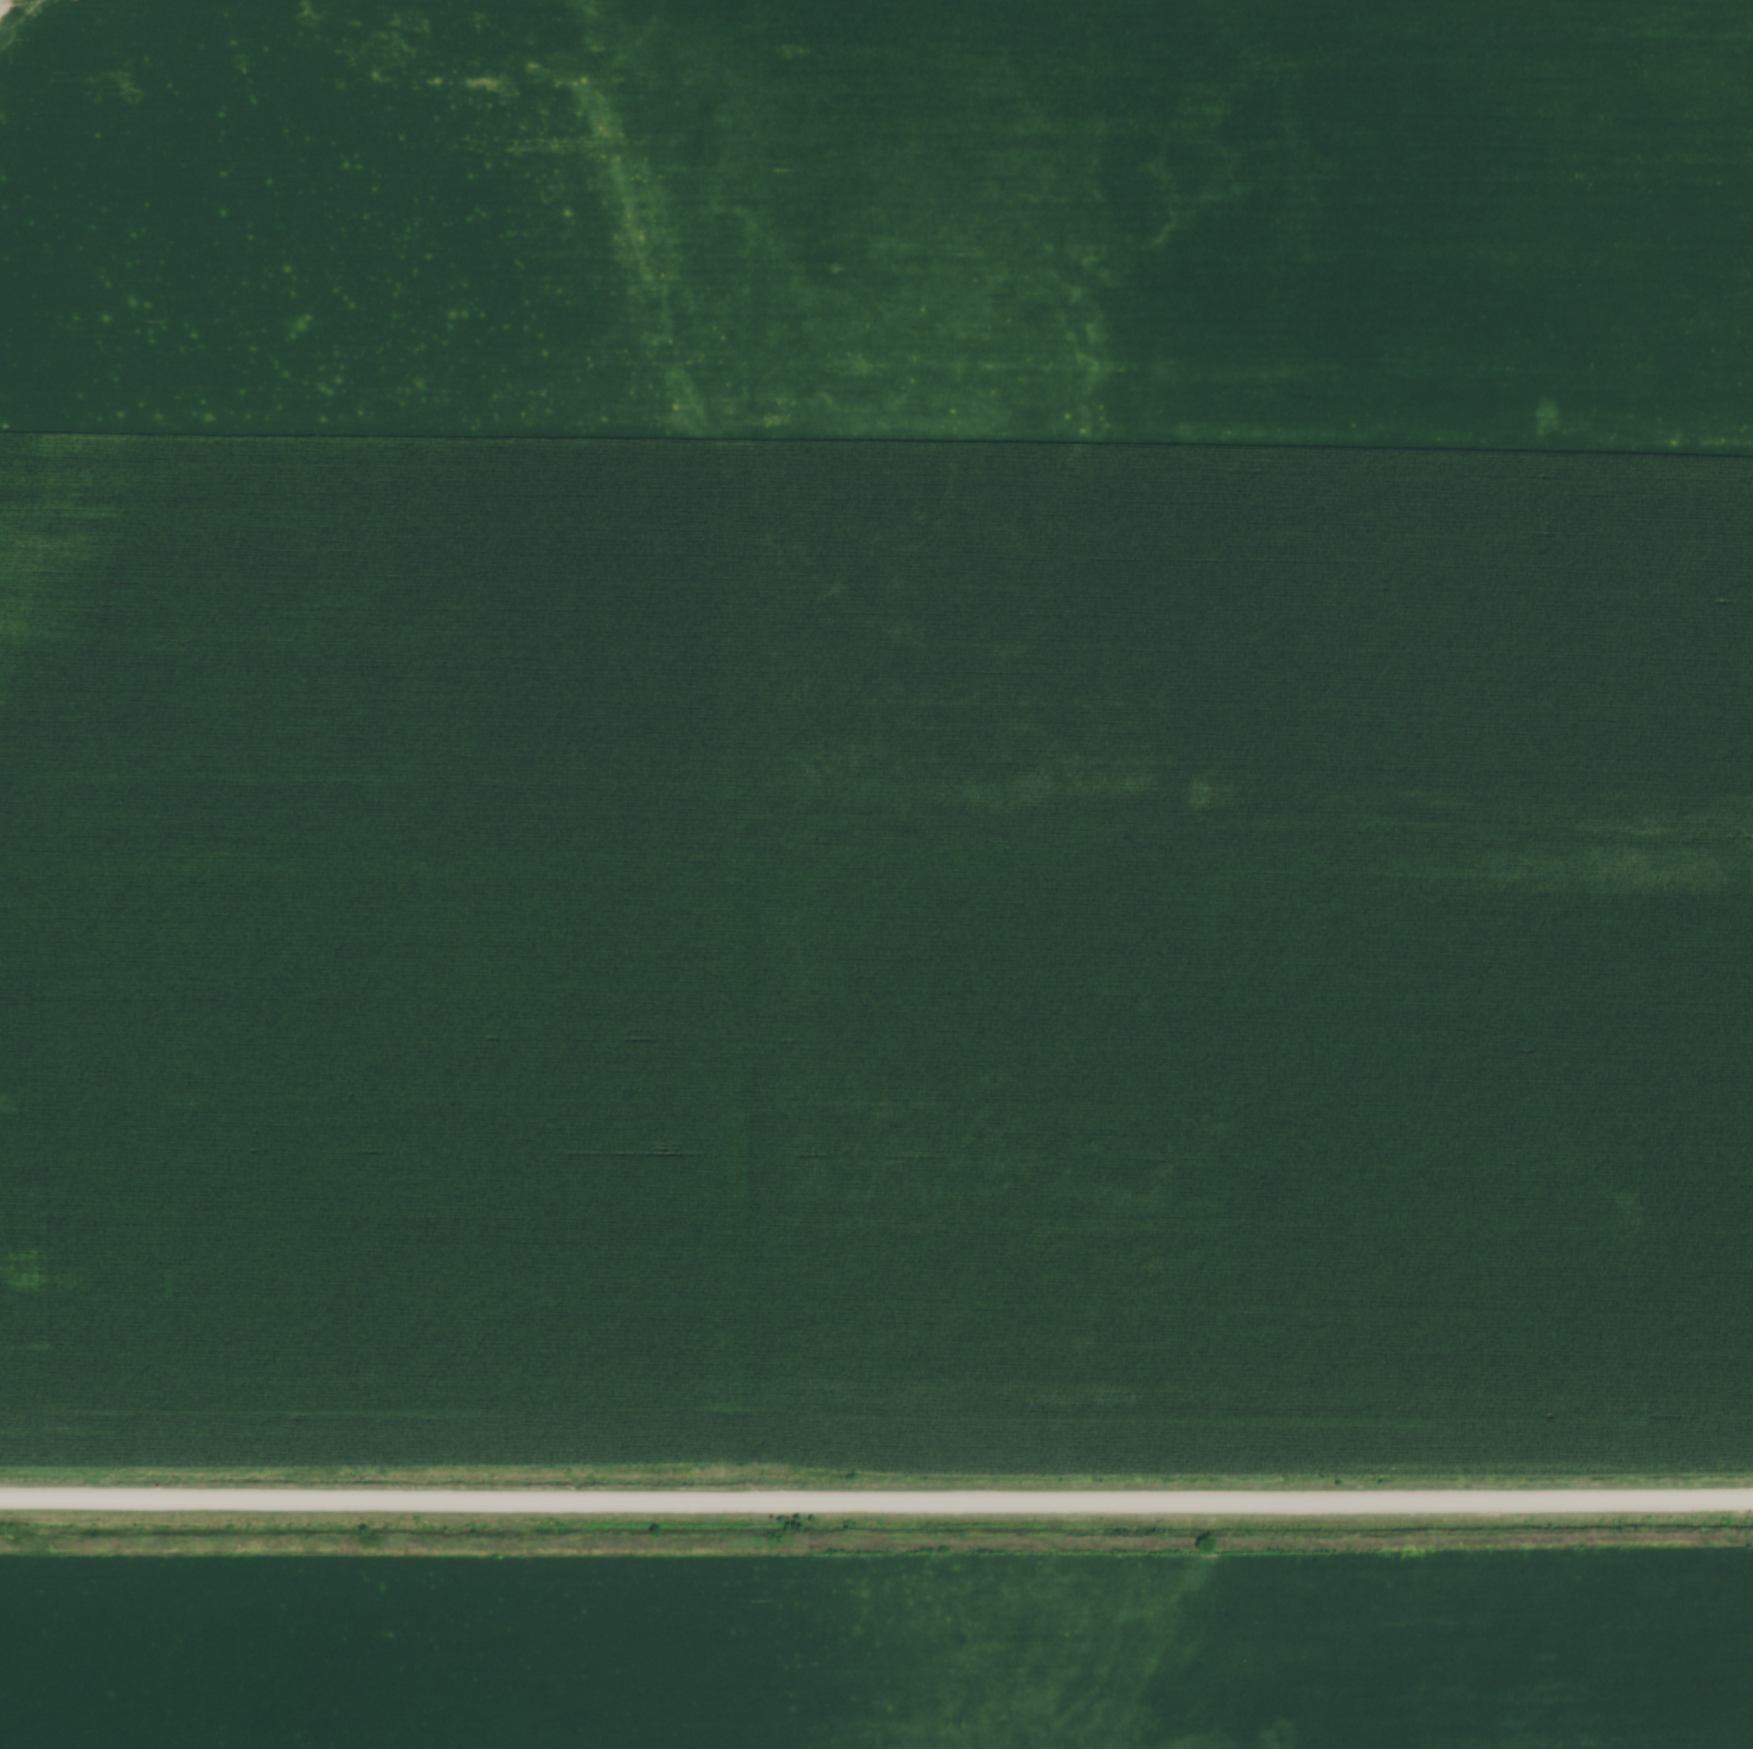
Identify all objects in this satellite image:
road: (876, 1507)

